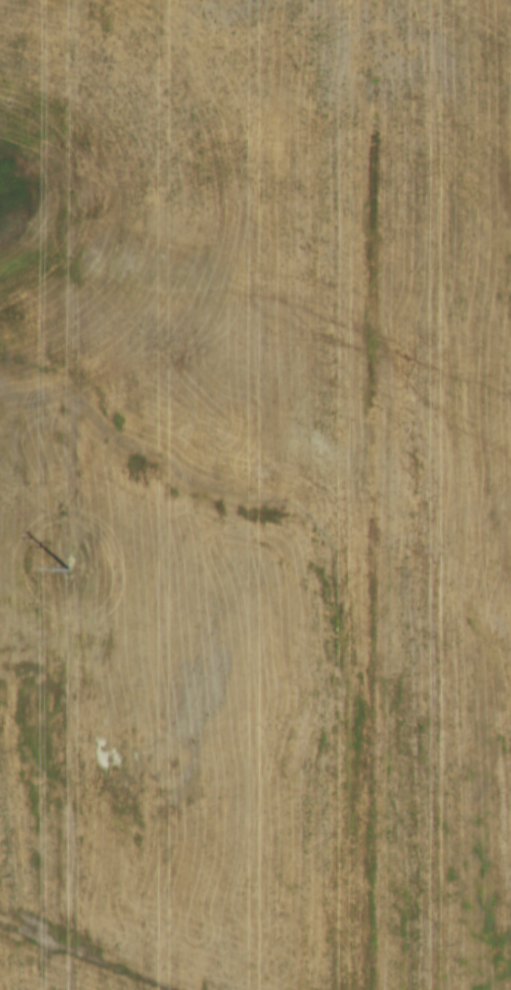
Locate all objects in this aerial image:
road: (371, 495)
power tower: (75, 564)

